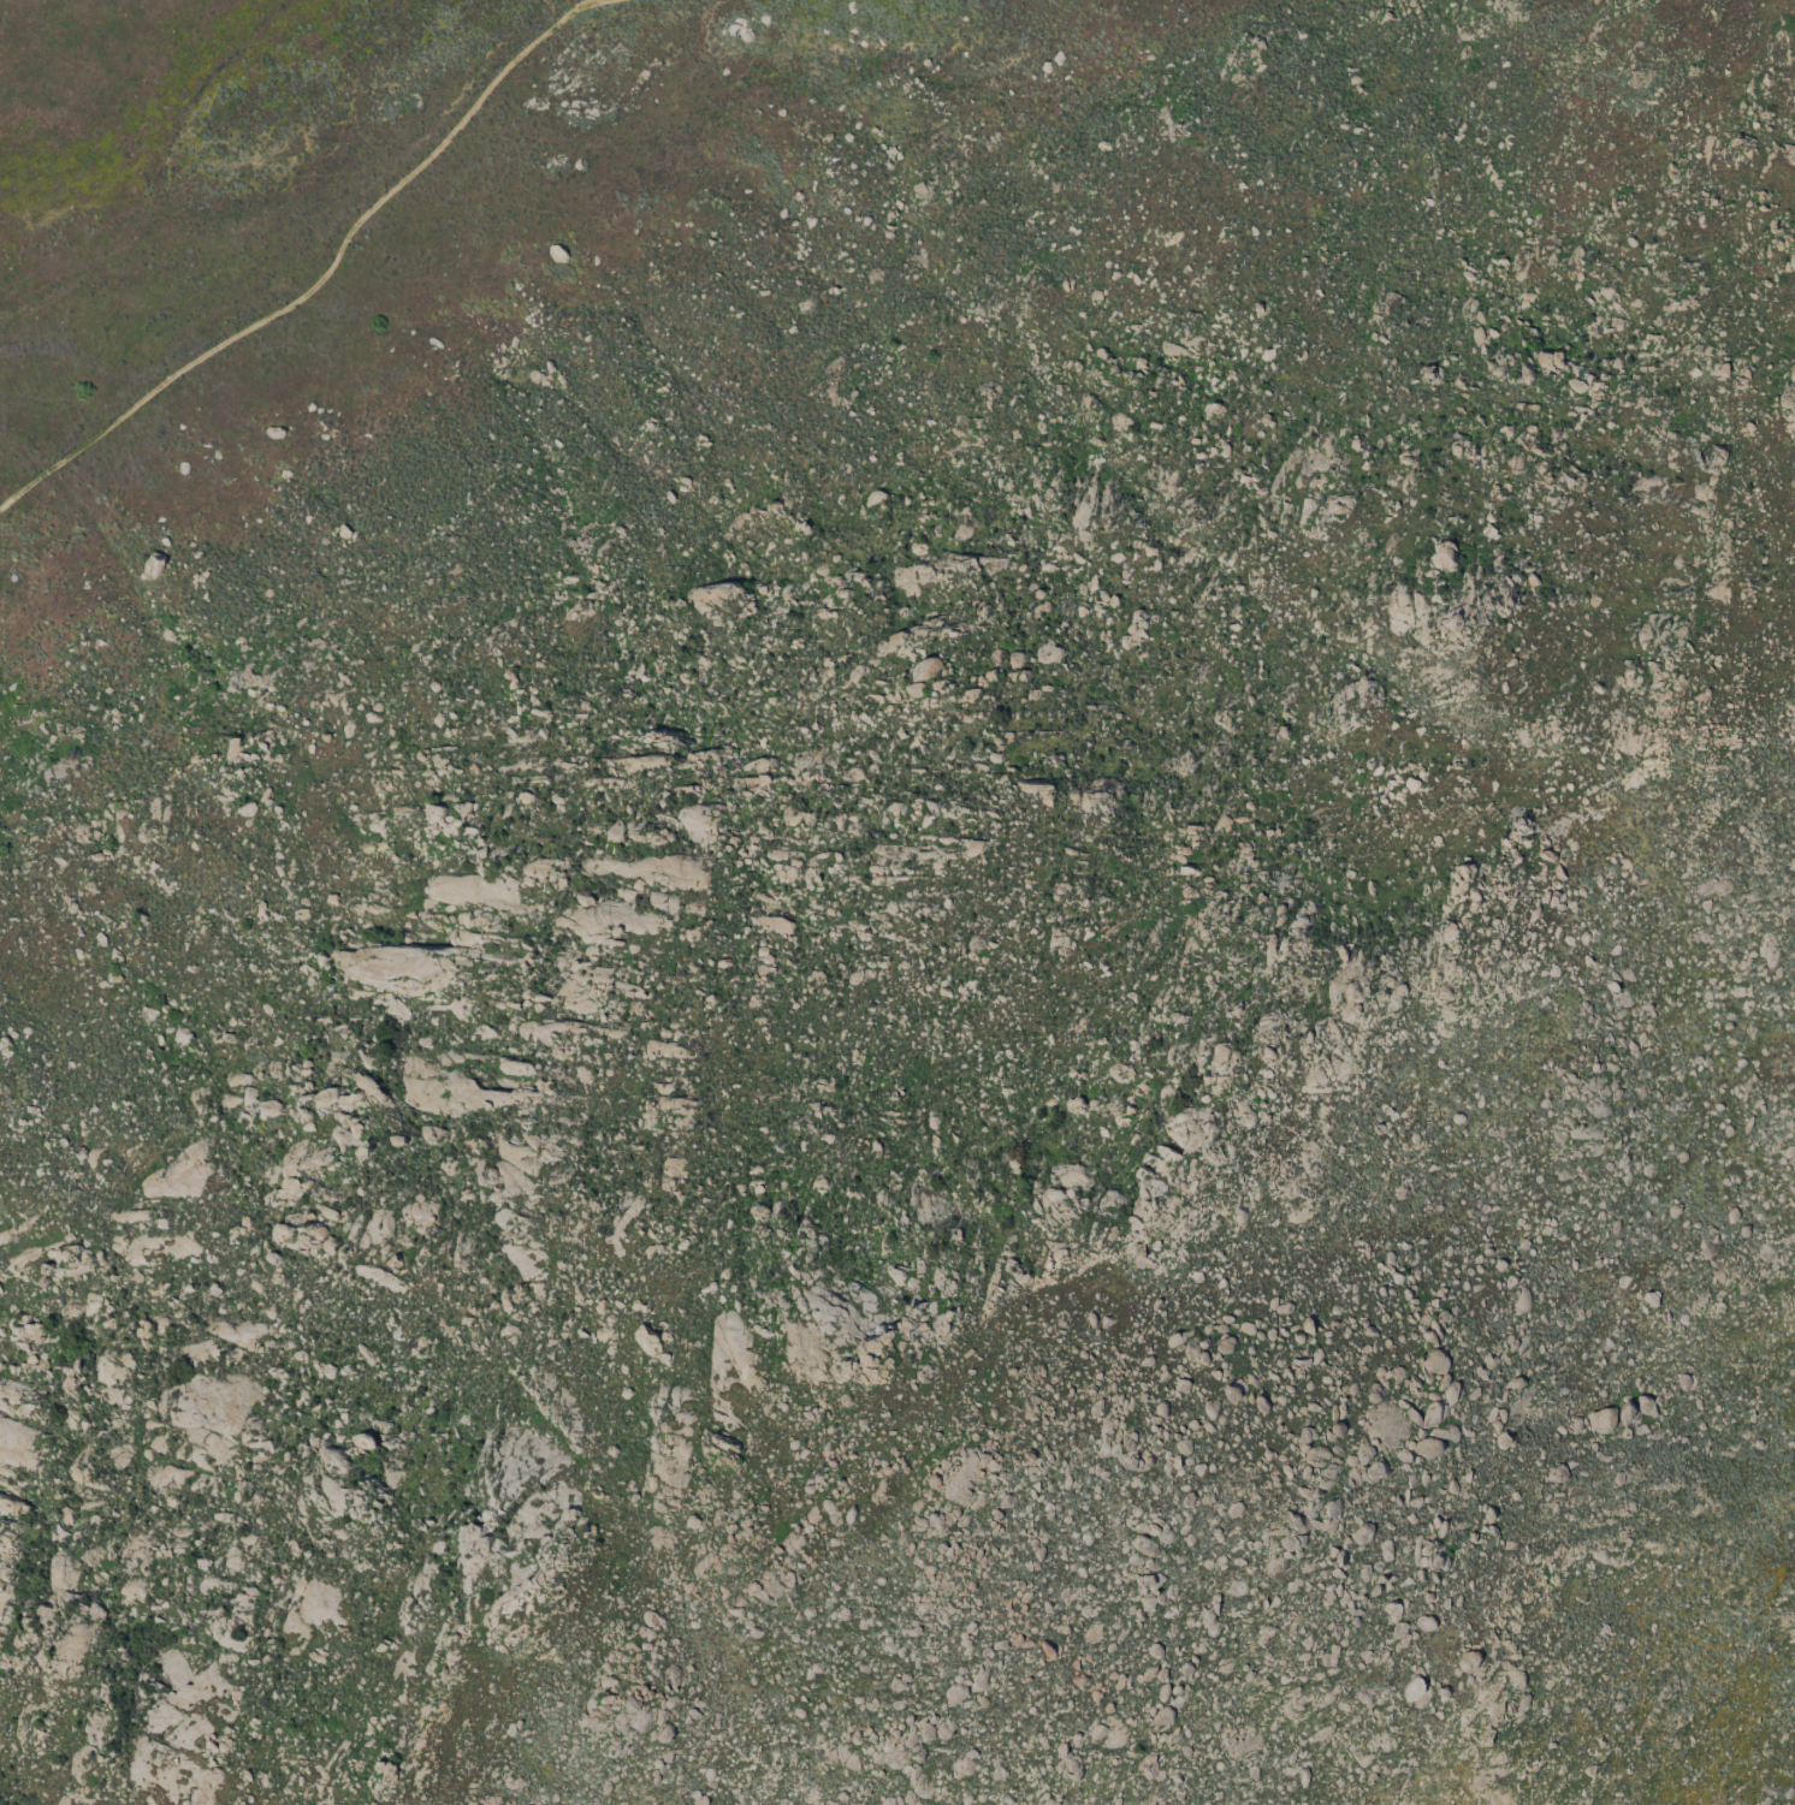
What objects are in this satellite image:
road: (328, 271)

